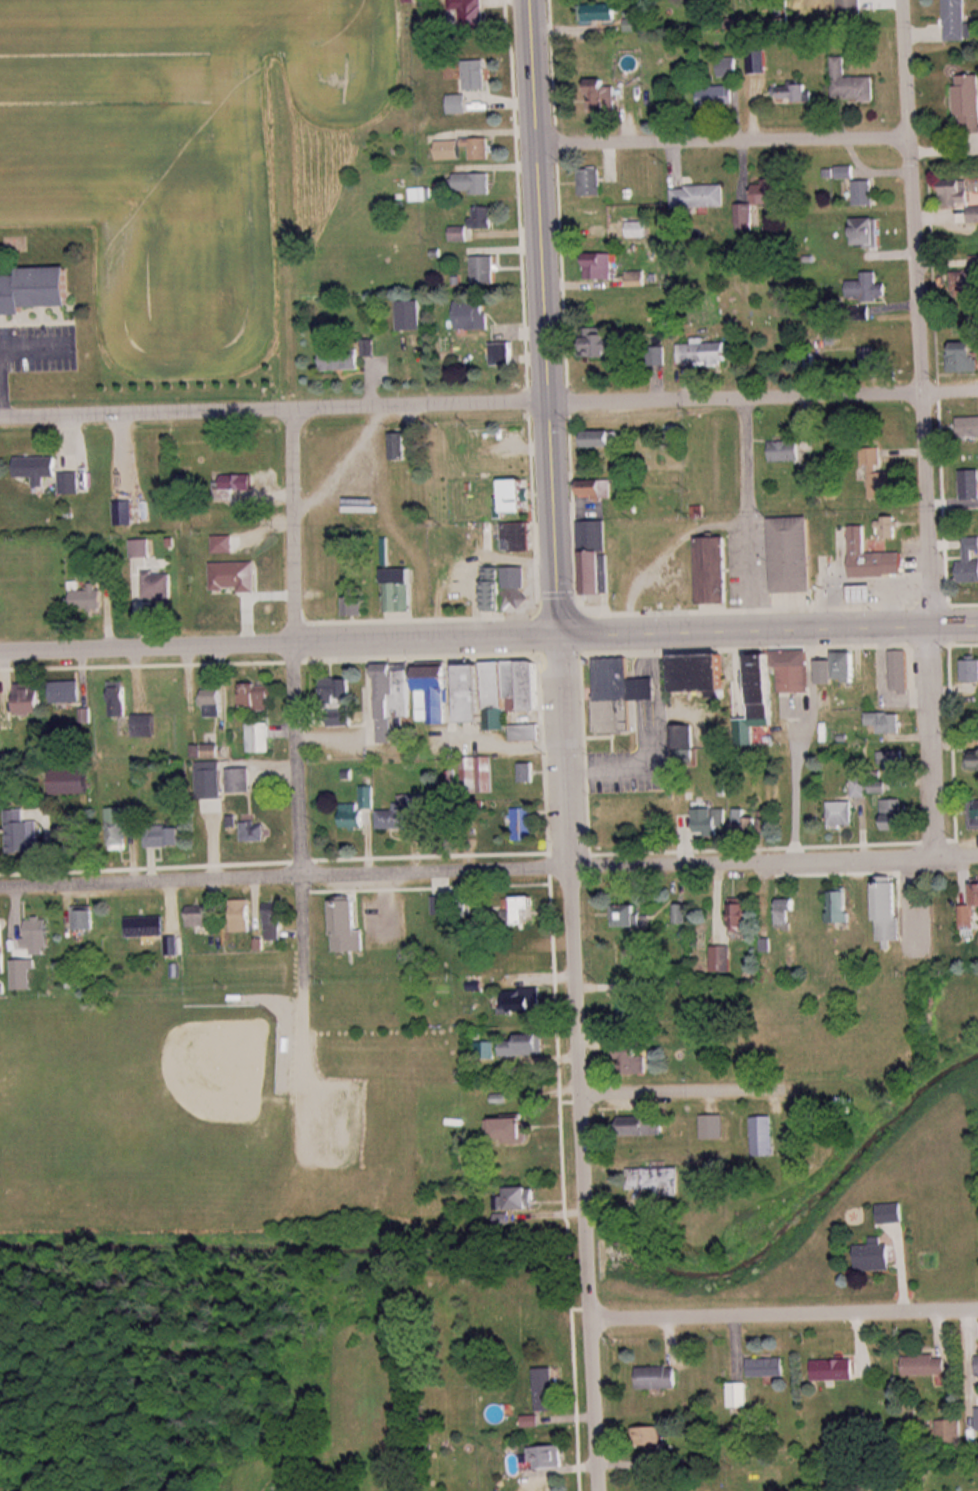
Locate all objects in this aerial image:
building: (853, 9)
building: (469, 15)
building: (598, 15)
building: (959, 22)
building: (641, 26)
building: (759, 63)
building: (476, 75)
building: (852, 85)
building: (724, 87)
building: (794, 93)
building: (602, 95)
building: (459, 104)
building: (968, 105)
road: (723, 139)
building: (479, 148)
building: (591, 178)
building: (473, 183)
building: (957, 192)
building: (864, 193)
building: (771, 195)
building: (700, 197)
building: (974, 215)
building: (483, 216)
building: (745, 217)
building: (593, 218)
building: (638, 229)
building: (867, 232)
building: (599, 266)
building: (484, 269)
building: (966, 282)
building: (869, 287)
building: (37, 289)
building: (410, 315)
building: (473, 316)
road: (546, 317)
building: (605, 344)
building: (368, 348)
building: (504, 354)
building: (704, 354)
building: (965, 357)
building: (341, 359)
building: (876, 360)
road: (763, 396)
road: (275, 413)
road: (922, 427)
building: (968, 428)
building: (671, 432)
building: (602, 438)
building: (399, 447)
building: (785, 451)
building: (33, 467)
building: (877, 475)
building: (234, 482)
building: (71, 483)
building: (969, 485)
building: (597, 488)
building: (518, 496)
building: (125, 513)
building: (889, 528)
building: (517, 537)
building: (142, 549)
building: (793, 555)
building: (871, 556)
building: (595, 557)
building: (970, 562)
building: (714, 570)
building: (234, 577)
building: (157, 585)
building: (507, 588)
building: (398, 591)
building: (864, 593)
building: (88, 600)
building: (351, 607)
road: (769, 629)
road: (280, 643)
building: (839, 669)
building: (970, 670)
building: (793, 672)
building: (900, 672)
building: (703, 674)
building: (761, 689)
building: (67, 692)
building: (501, 692)
building: (436, 695)
building: (618, 695)
building: (259, 696)
building: (32, 699)
building: (118, 699)
building: (395, 700)
building: (338, 702)
building: (213, 703)
building: (883, 723)
building: (144, 724)
building: (526, 733)
building: (258, 738)
building: (682, 738)
building: (211, 752)
road: (297, 757)
building: (892, 760)
building: (527, 773)
building: (478, 776)
building: (238, 781)
building: (71, 782)
building: (881, 788)
building: (357, 810)
building: (399, 813)
building: (841, 814)
building: (974, 814)
building: (894, 816)
building: (710, 822)
building: (524, 825)
building: (749, 825)
building: (118, 826)
building: (22, 833)
building: (258, 833)
building: (163, 836)
road: (775, 860)
road: (286, 874)
building: (977, 894)
building: (440, 905)
building: (841, 907)
building: (889, 911)
building: (525, 912)
building: (683, 914)
building: (743, 914)
building: (786, 914)
building: (199, 916)
building: (240, 916)
building: (633, 917)
building: (83, 918)
building: (968, 918)
building: (272, 922)
building: (145, 927)
building: (346, 927)
building: (38, 930)
building: (2, 948)
building: (723, 960)
building: (524, 964)
building: (522, 1001)
building: (629, 1008)
building: (524, 1047)
building: (634, 1060)
road: (582, 1062)
road: (689, 1100)
park: (140, 1116)
building: (643, 1126)
building: (712, 1128)
building: (514, 1131)
building: (764, 1136)
building: (657, 1181)
building: (518, 1200)
building: (893, 1214)
building: (876, 1257)
road: (785, 1319)
building: (926, 1366)
building: (766, 1368)
building: (834, 1371)
building: (657, 1378)
building: (545, 1390)
building: (738, 1396)
building: (977, 1420)
building: (950, 1434)
building: (648, 1440)
building: (548, 1458)

